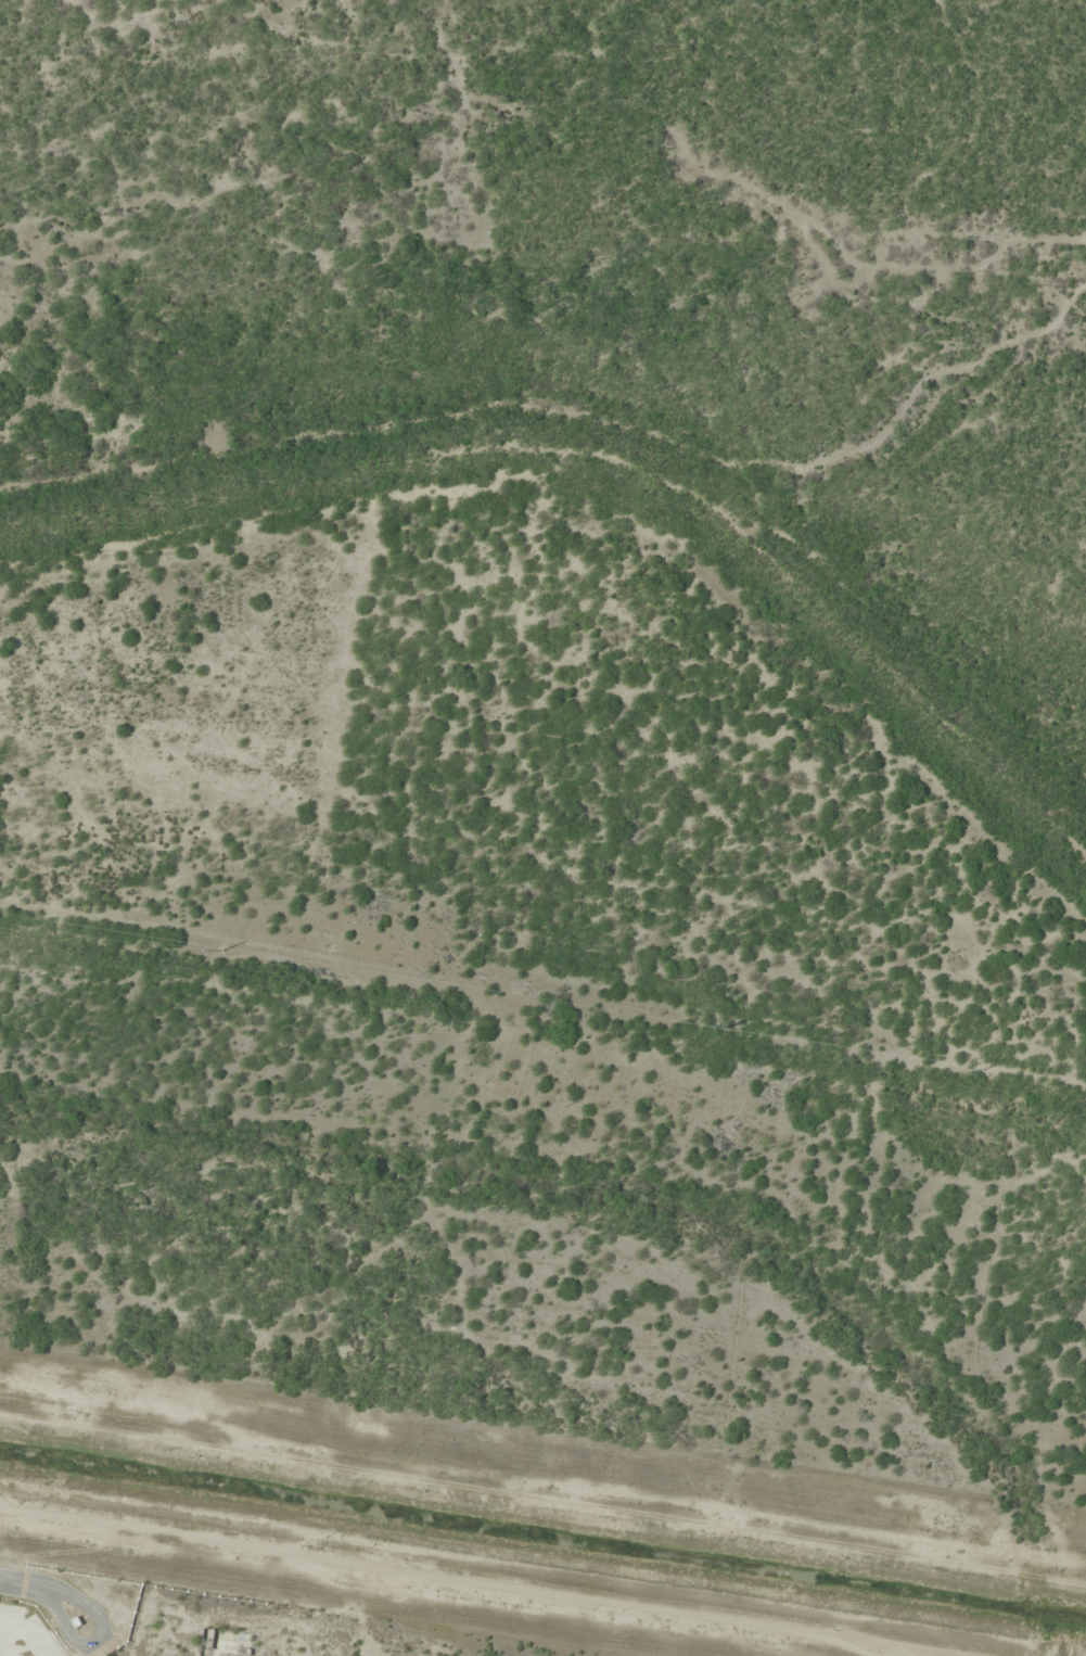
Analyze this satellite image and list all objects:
road: (61, 1604)

